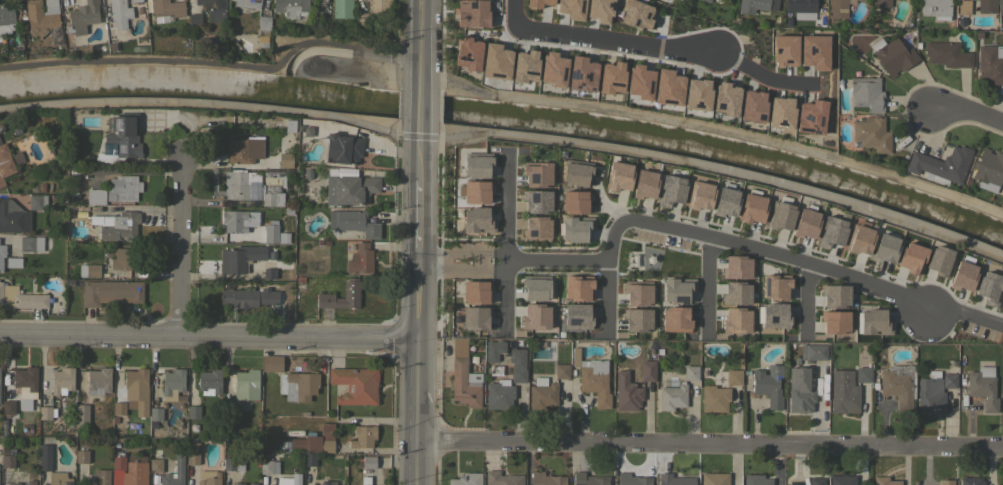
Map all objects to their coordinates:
building: (135, 1)
building: (320, 1)
building: (706, 1)
building: (247, 3)
building: (536, 3)
building: (881, 3)
building: (752, 5)
building: (799, 5)
building: (986, 6)
building: (290, 7)
building: (380, 7)
building: (935, 7)
building: (963, 7)
building: (1001, 7)
building: (570, 8)
building: (838, 8)
building: (166, 9)
building: (210, 9)
building: (341, 9)
building: (599, 10)
building: (119, 12)
building: (472, 13)
building: (635, 14)
building: (41, 16)
building: (83, 16)
building: (6, 19)
building: (361, 19)
building: (193, 20)
building: (263, 24)
road: (605, 40)
building: (784, 50)
building: (813, 51)
building: (466, 53)
building: (947, 54)
building: (894, 56)
building: (494, 61)
building: (990, 64)
building: (524, 66)
building: (552, 69)
road: (761, 73)
building: (580, 74)
building: (611, 77)
building: (639, 82)
building: (667, 87)
building: (866, 93)
building: (697, 94)
building: (724, 98)
road: (209, 104)
building: (752, 106)
building: (780, 112)
road: (967, 112)
building: (810, 116)
rooftop solar panel: (116, 125)
road: (416, 130)
building: (871, 134)
building: (120, 140)
rooftop solar panel: (121, 147)
building: (343, 149)
building: (244, 150)
building: (285, 160)
building: (4, 163)
building: (940, 164)
road: (714, 167)
building: (988, 170)
building: (574, 173)
building: (617, 176)
rooftop solar panel: (534, 178)
building: (239, 183)
building: (643, 184)
building: (123, 188)
building: (272, 188)
building: (351, 189)
building: (669, 190)
building: (504, 194)
building: (95, 196)
rooftop solar panel: (536, 200)
building: (573, 201)
building: (37, 202)
building: (725, 202)
building: (752, 208)
building: (708, 211)
building: (781, 216)
building: (13, 217)
building: (645, 219)
building: (234, 221)
building: (352, 222)
building: (805, 223)
building: (116, 224)
building: (582, 229)
building: (270, 232)
building: (831, 232)
road: (701, 235)
rooftop solar panel: (533, 236)
building: (860, 240)
building: (30, 243)
road: (179, 248)
road: (507, 248)
building: (884, 248)
building: (2, 254)
building: (122, 258)
building: (239, 258)
building: (911, 258)
building: (360, 259)
building: (939, 260)
road: (454, 261)
building: (14, 262)
building: (735, 267)
building: (89, 270)
building: (524, 272)
building: (269, 273)
building: (637, 273)
building: (962, 276)
road: (707, 282)
building: (535, 287)
building: (774, 287)
building: (989, 287)
building: (576, 288)
building: (676, 289)
building: (111, 292)
building: (474, 292)
road: (606, 292)
building: (350, 293)
building: (636, 293)
building: (735, 293)
road: (807, 293)
building: (834, 296)
building: (248, 297)
building: (21, 298)
building: (1002, 302)
road: (964, 314)
building: (534, 316)
building: (579, 316)
building: (773, 316)
building: (474, 318)
building: (675, 319)
building: (636, 320)
building: (735, 320)
rooftop solar panel: (774, 322)
building: (834, 322)
building: (872, 322)
road: (208, 336)
building: (494, 349)
building: (813, 351)
building: (272, 363)
building: (517, 365)
building: (647, 370)
road: (416, 372)
building: (690, 373)
building: (863, 374)
building: (463, 376)
building: (25, 377)
building: (733, 377)
building: (592, 378)
building: (62, 379)
building: (98, 380)
building: (949, 381)
building: (209, 382)
building: (172, 383)
building: (246, 385)
building: (355, 385)
building: (768, 385)
building: (899, 385)
building: (134, 386)
building: (300, 386)
building: (983, 387)
building: (547, 388)
building: (800, 391)
building: (627, 392)
building: (843, 392)
building: (499, 394)
building: (930, 395)
building: (672, 397)
building: (1002, 397)
building: (714, 398)
building: (8, 407)
building: (119, 408)
building: (230, 409)
building: (193, 411)
building: (45, 412)
building: (156, 413)
building: (81, 416)
building: (362, 436)
building: (315, 440)
road: (709, 444)
building: (81, 456)
building: (44, 457)
building: (192, 457)
building: (309, 459)
building: (7, 461)
building: (118, 461)
building: (367, 462)
building: (233, 463)
building: (155, 464)
building: (268, 467)
building: (19, 474)
building: (134, 474)
building: (102, 476)
building: (208, 477)
building: (502, 478)
building: (58, 479)
building: (466, 479)
building: (546, 479)
building: (589, 479)
building: (631, 479)
building: (714, 479)
building: (842, 479)
building: (90, 480)
building: (289, 480)
building: (674, 480)
building: (756, 480)
building: (816, 481)
building: (884, 481)
building: (971, 481)
building: (1002, 481)
building: (30, 482)
building: (170, 482)
building: (945, 482)
building: (15, 483)
building: (252, 483)
building: (327, 483)
building: (238, 484)
building: (365, 484)

